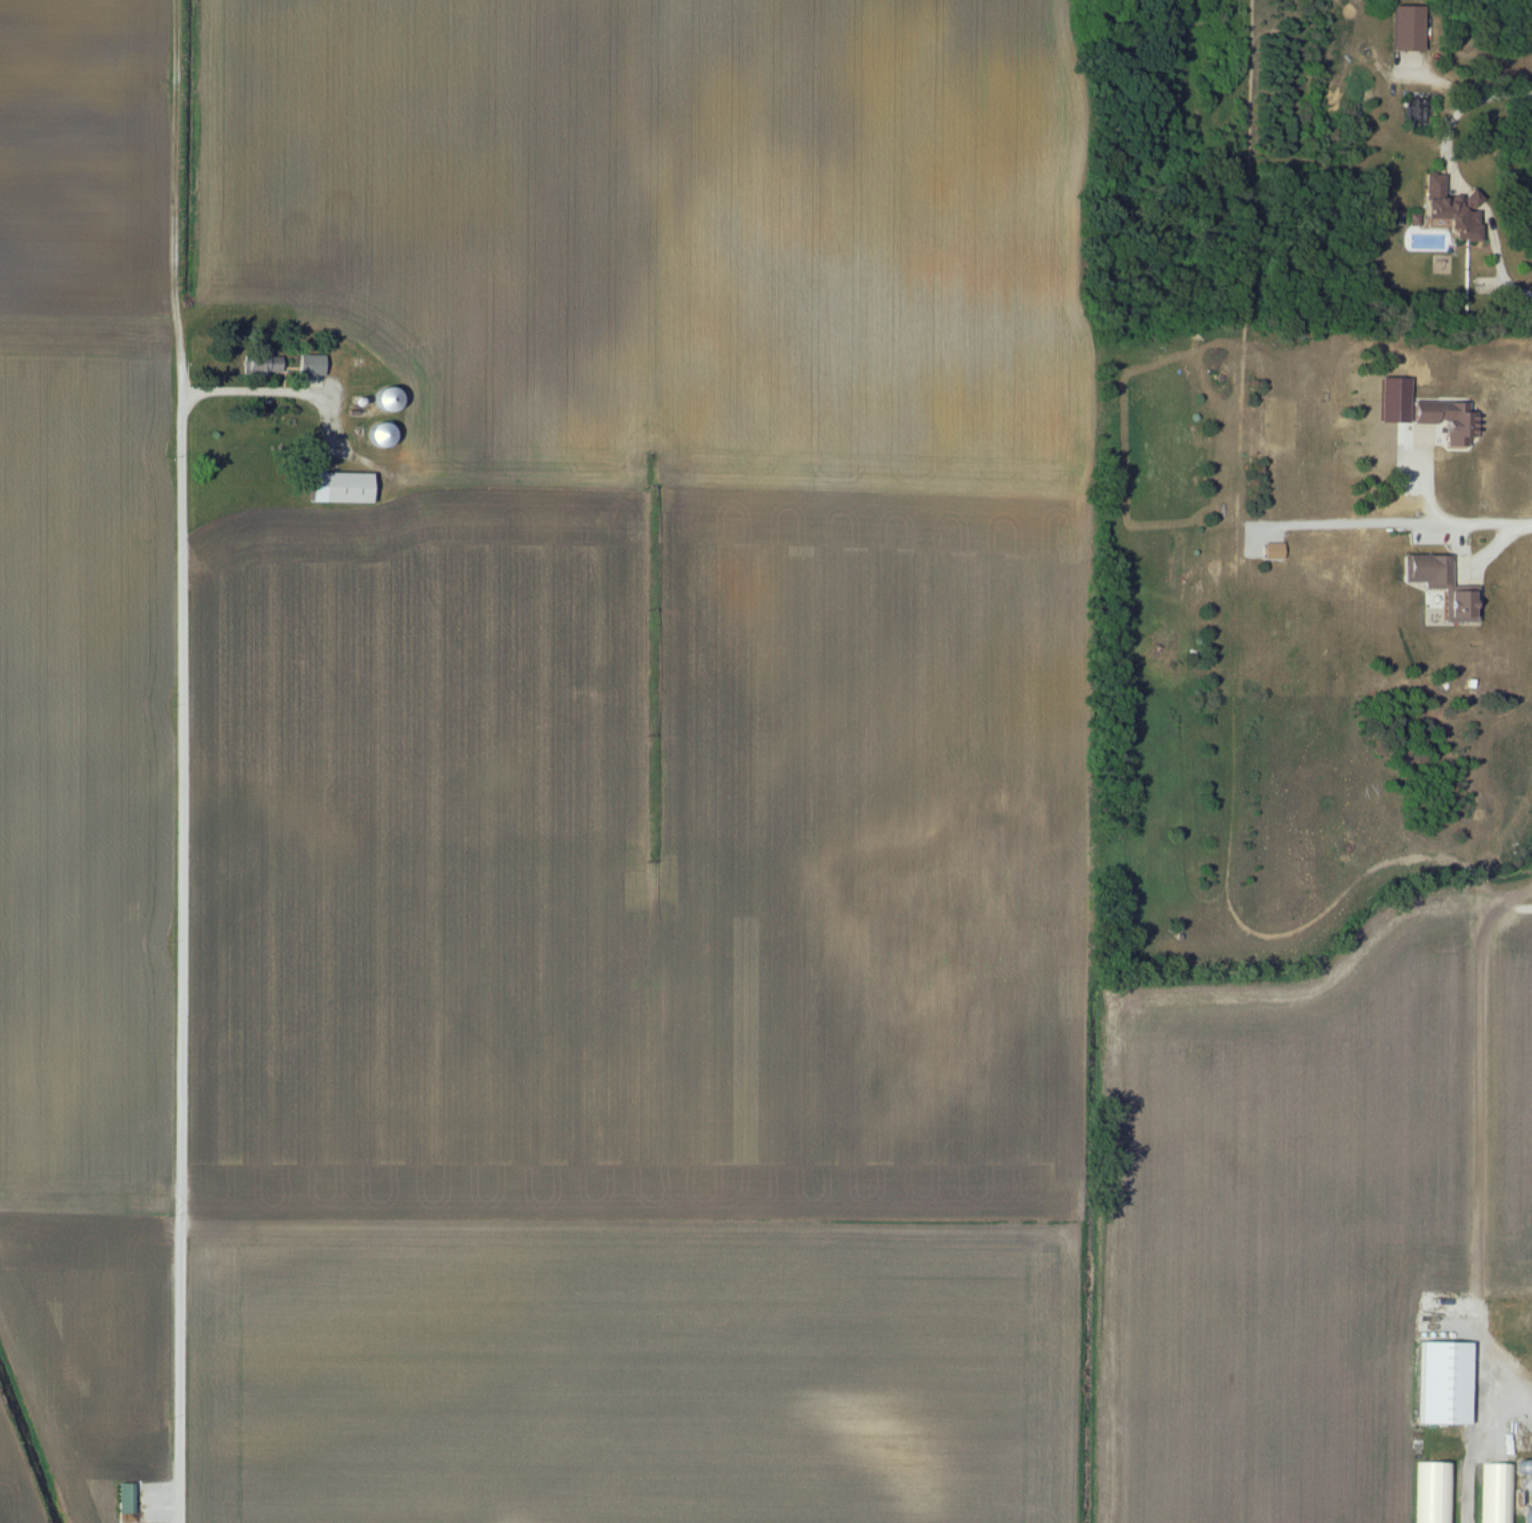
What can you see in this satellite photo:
building: (1406, 30)
road: (1463, 82)
building: (1451, 210)
road: (1497, 258)
building: (310, 366)
road: (281, 392)
building: (1393, 402)
building: (1444, 420)
building: (341, 490)
road: (1416, 526)
building: (1273, 552)
building: (1440, 586)
road: (181, 948)
building: (1442, 1384)
road: (1475, 1446)
building: (1435, 1493)
building: (1499, 1493)
building: (125, 1500)

